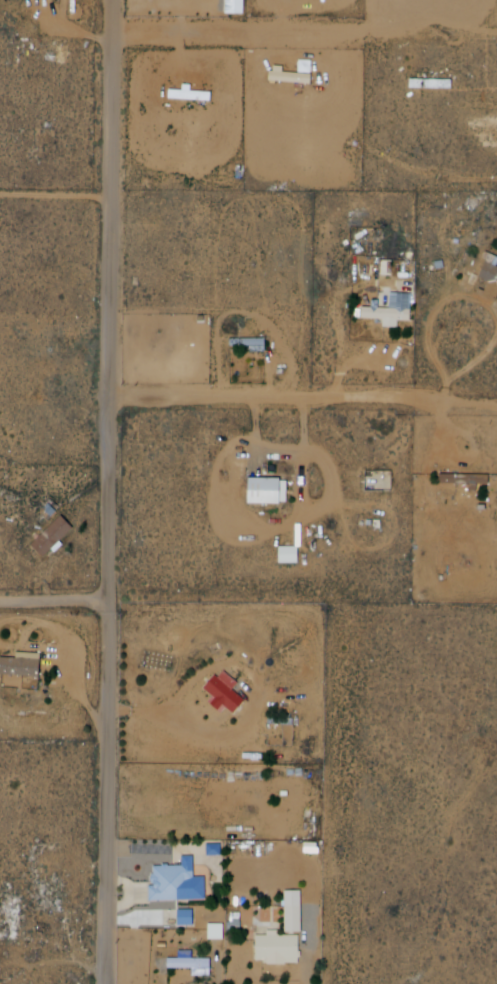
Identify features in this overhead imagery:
road: (207, 32)
building: (488, 276)
building: (396, 312)
building: (173, 341)
building: (255, 344)
road: (283, 399)
building: (469, 479)
building: (383, 482)
building: (270, 489)
road: (117, 492)
building: (58, 537)
building: (285, 554)
road: (58, 601)
building: (154, 661)
building: (25, 666)
building: (226, 691)
building: (181, 881)
building: (296, 910)
building: (182, 918)
building: (279, 949)
building: (190, 960)

